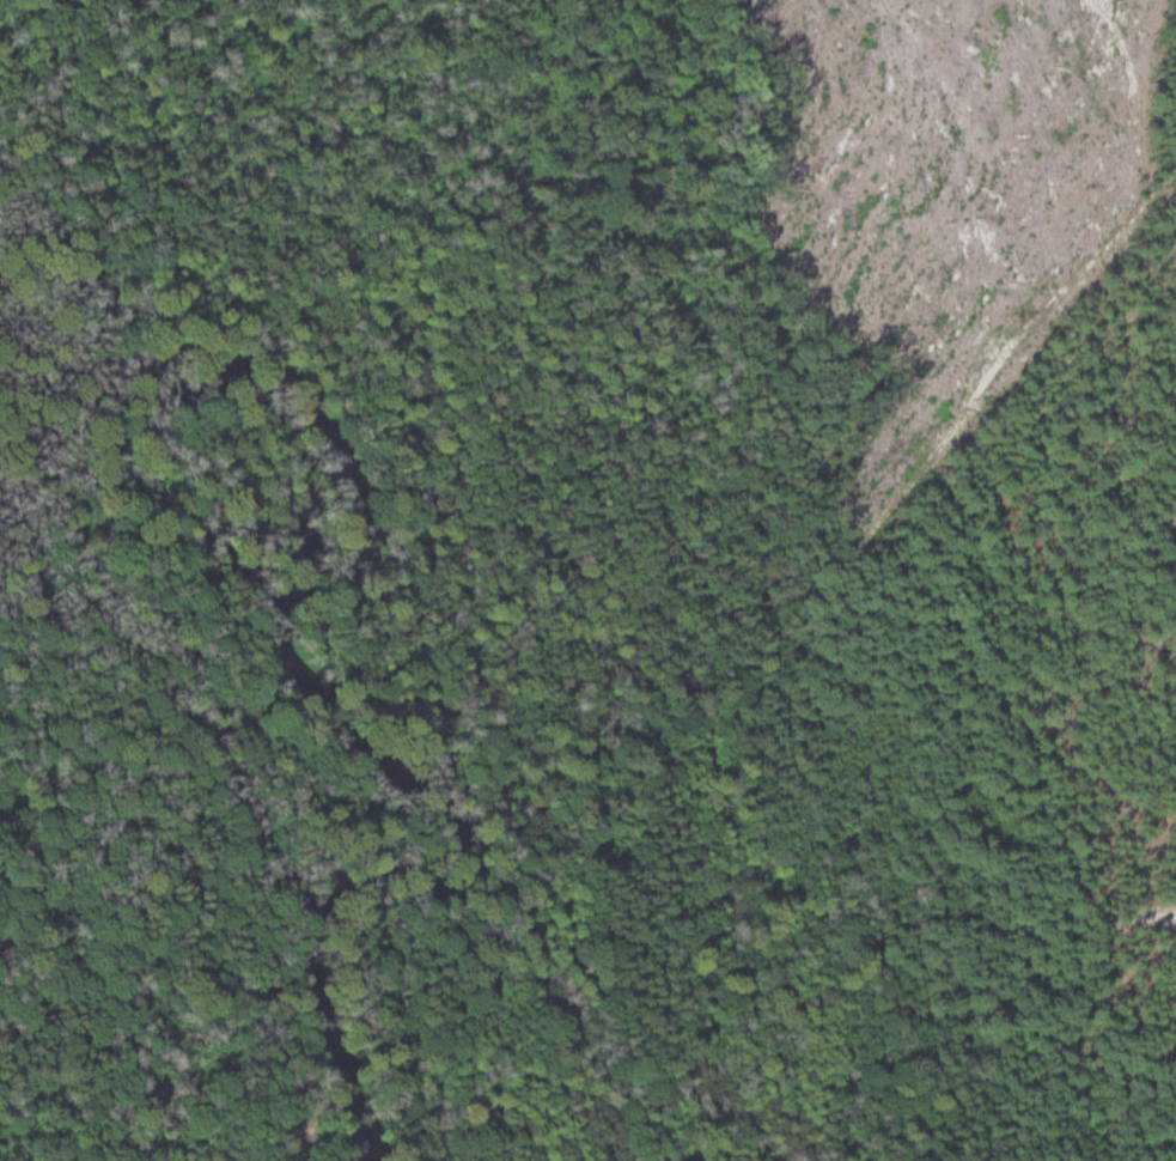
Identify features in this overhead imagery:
river: (310, 659)

